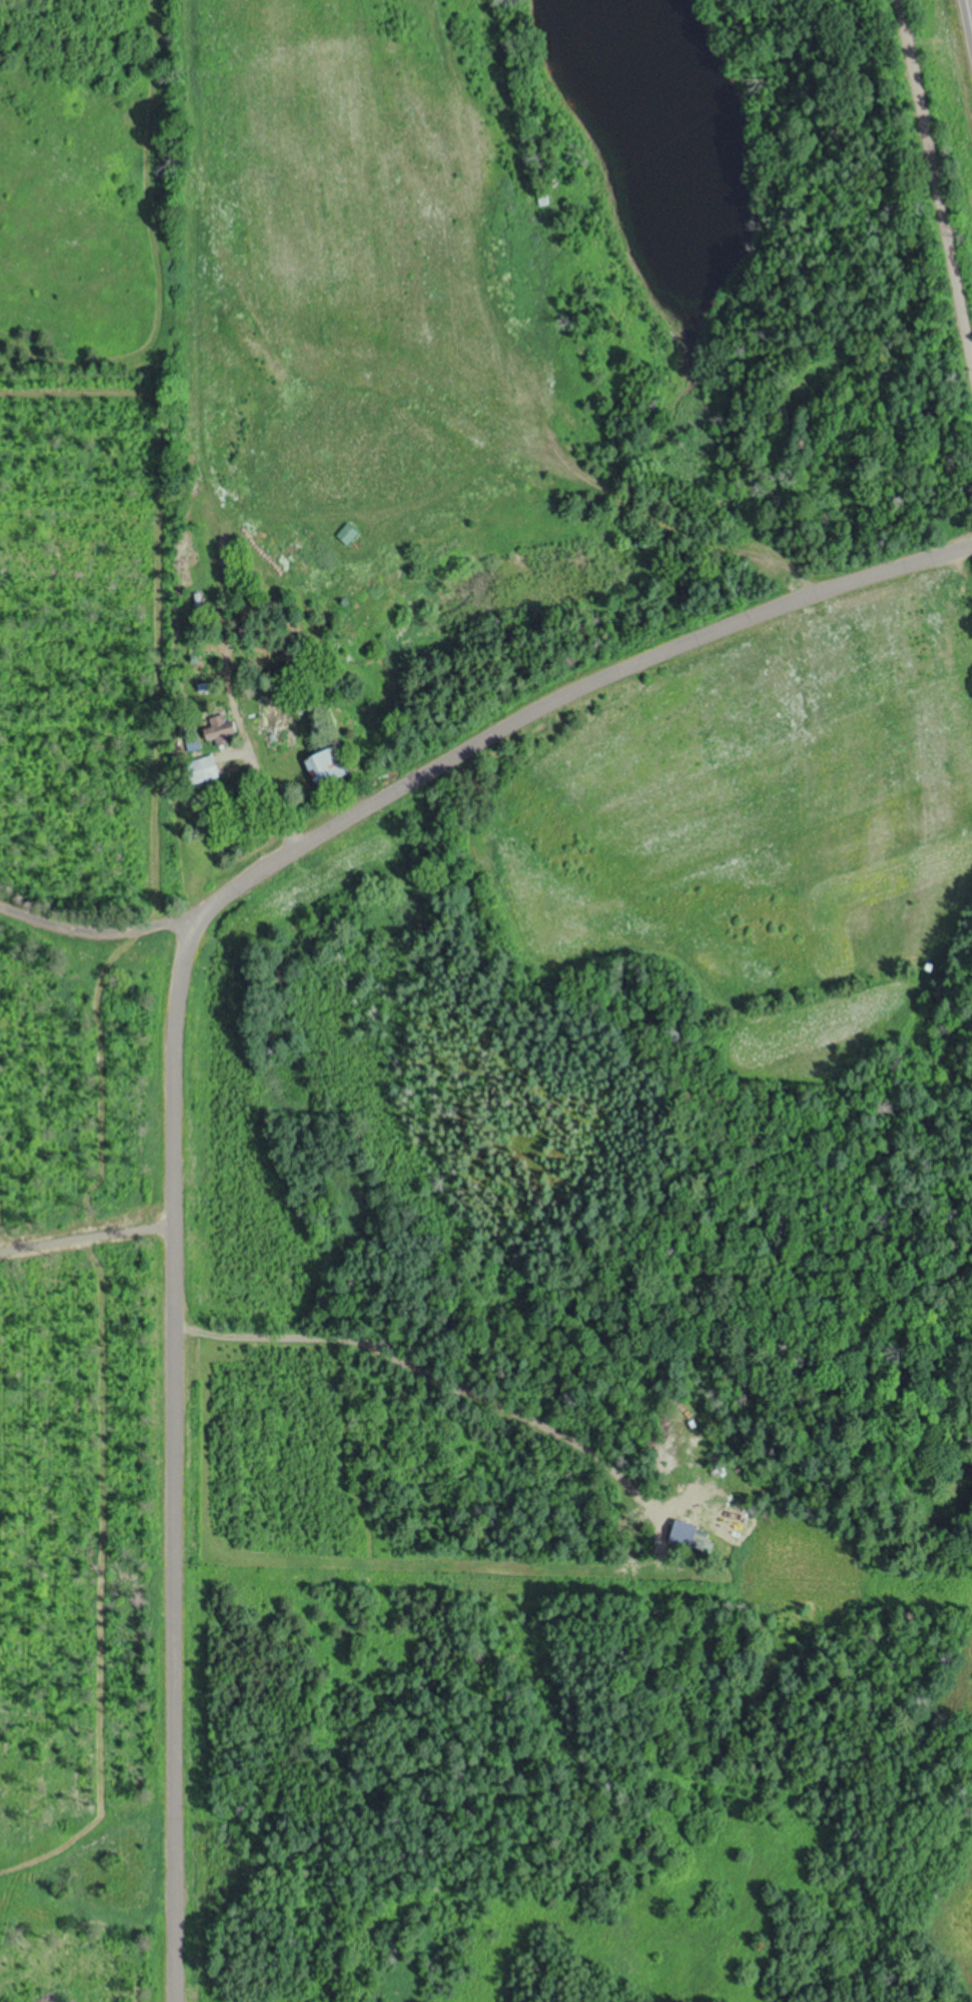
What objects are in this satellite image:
road: (971, 4)
road: (939, 162)
building: (224, 729)
building: (332, 764)
road: (179, 1027)

